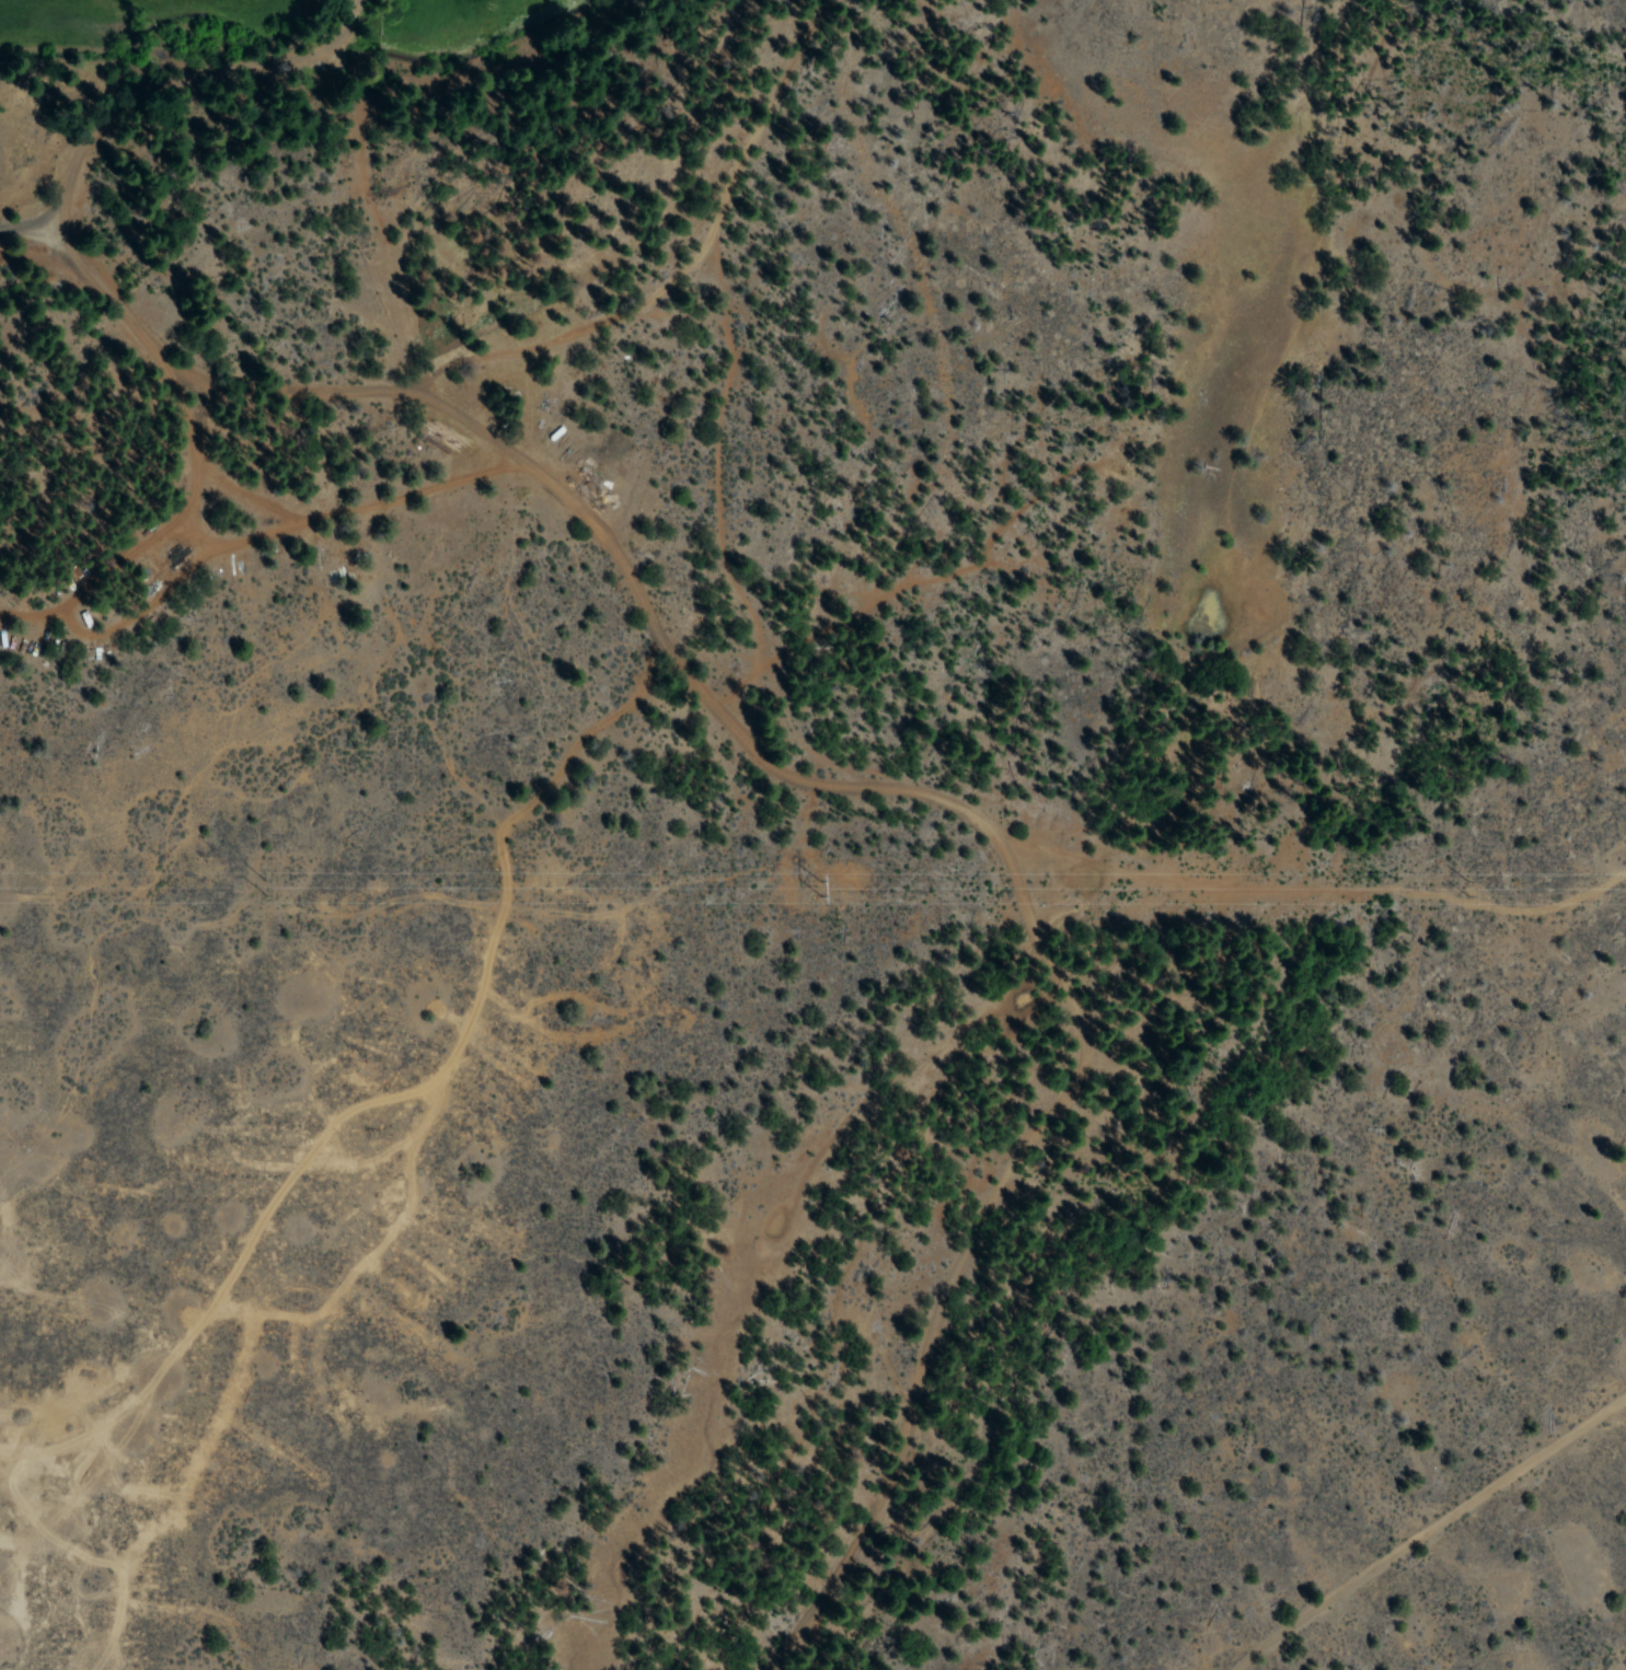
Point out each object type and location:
road: (870, 254)
road: (293, 285)
road: (942, 846)
power tower: (262, 883)
power tower: (1467, 883)
power tower: (809, 885)

